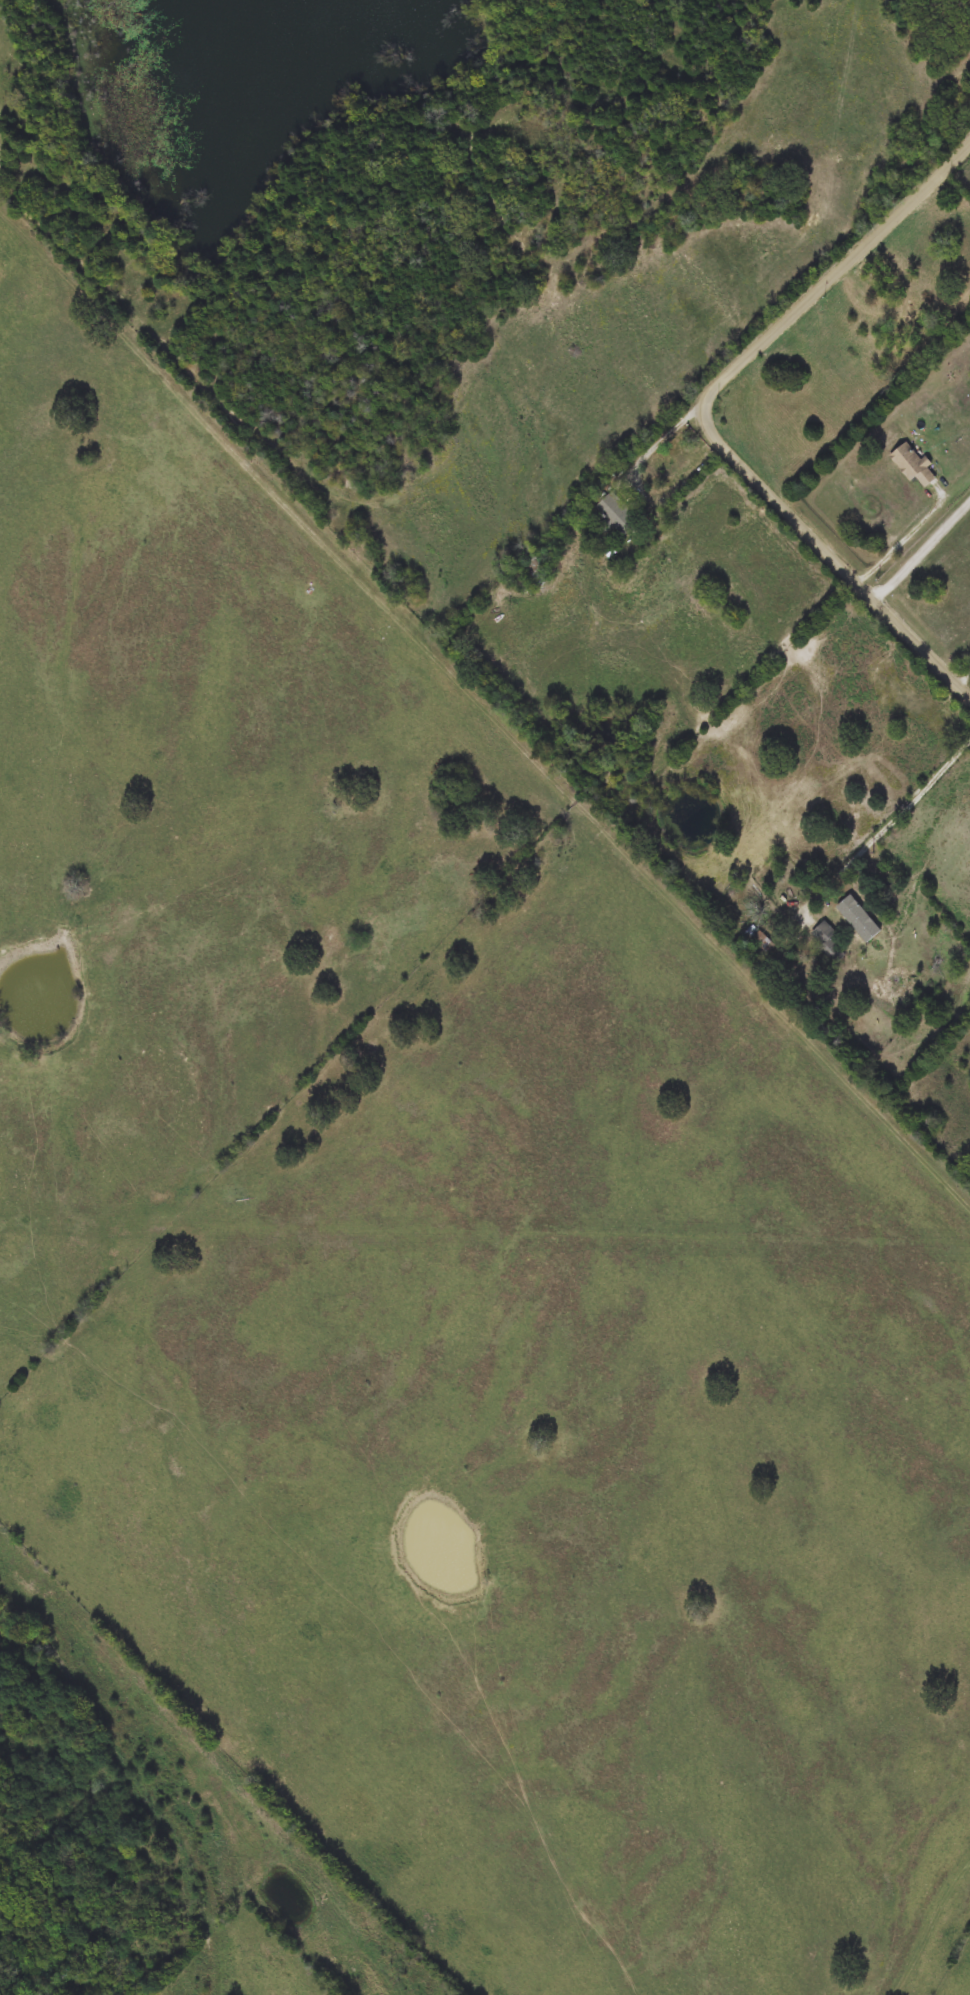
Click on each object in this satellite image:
building: (883, 318)
road: (705, 419)
building: (913, 465)
road: (641, 487)
building: (617, 515)
road: (914, 539)
building: (536, 570)
road: (965, 680)
road: (885, 826)
building: (828, 942)

